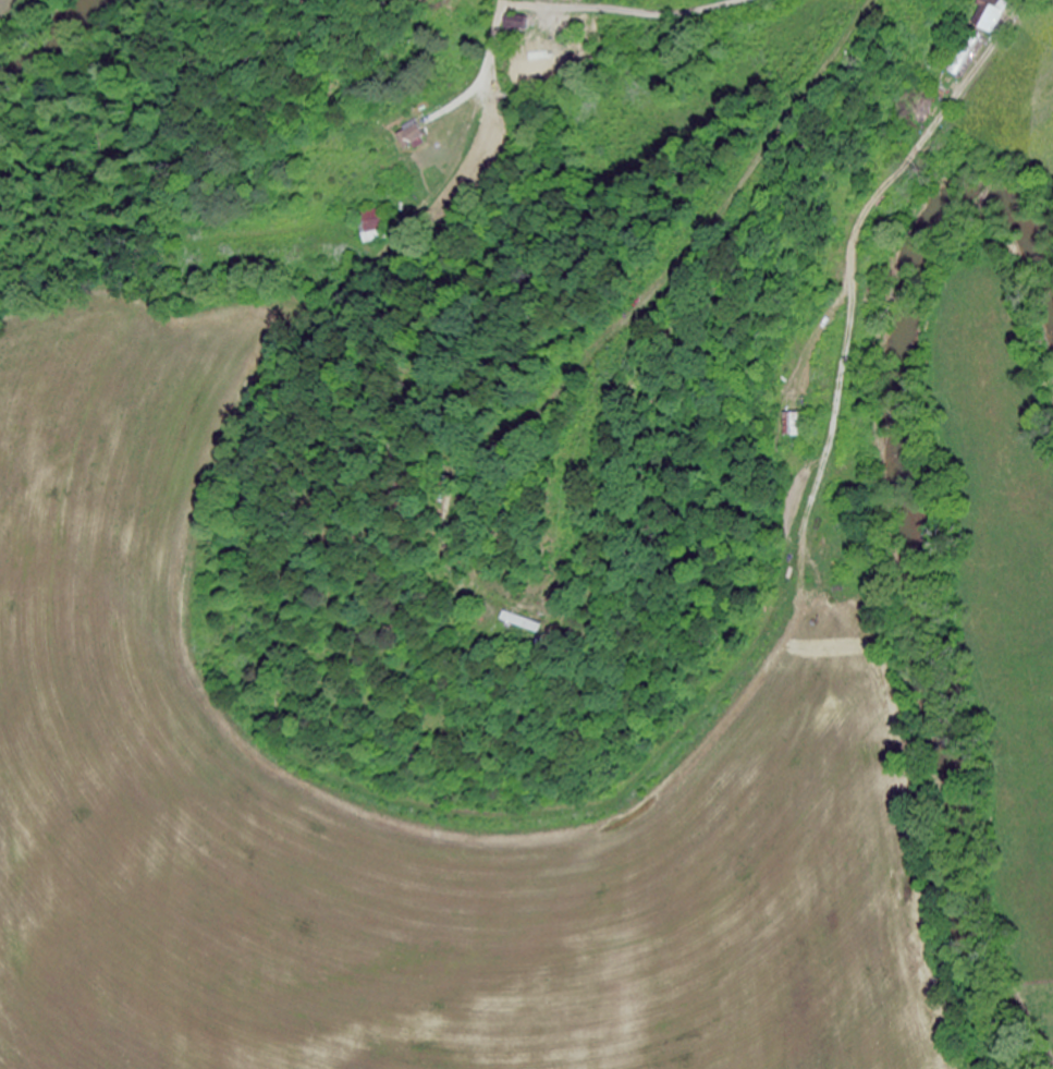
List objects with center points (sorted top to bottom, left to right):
road: (632, 13)
building: (992, 19)
building: (968, 54)
building: (540, 62)
building: (412, 135)
building: (371, 227)
building: (519, 623)

